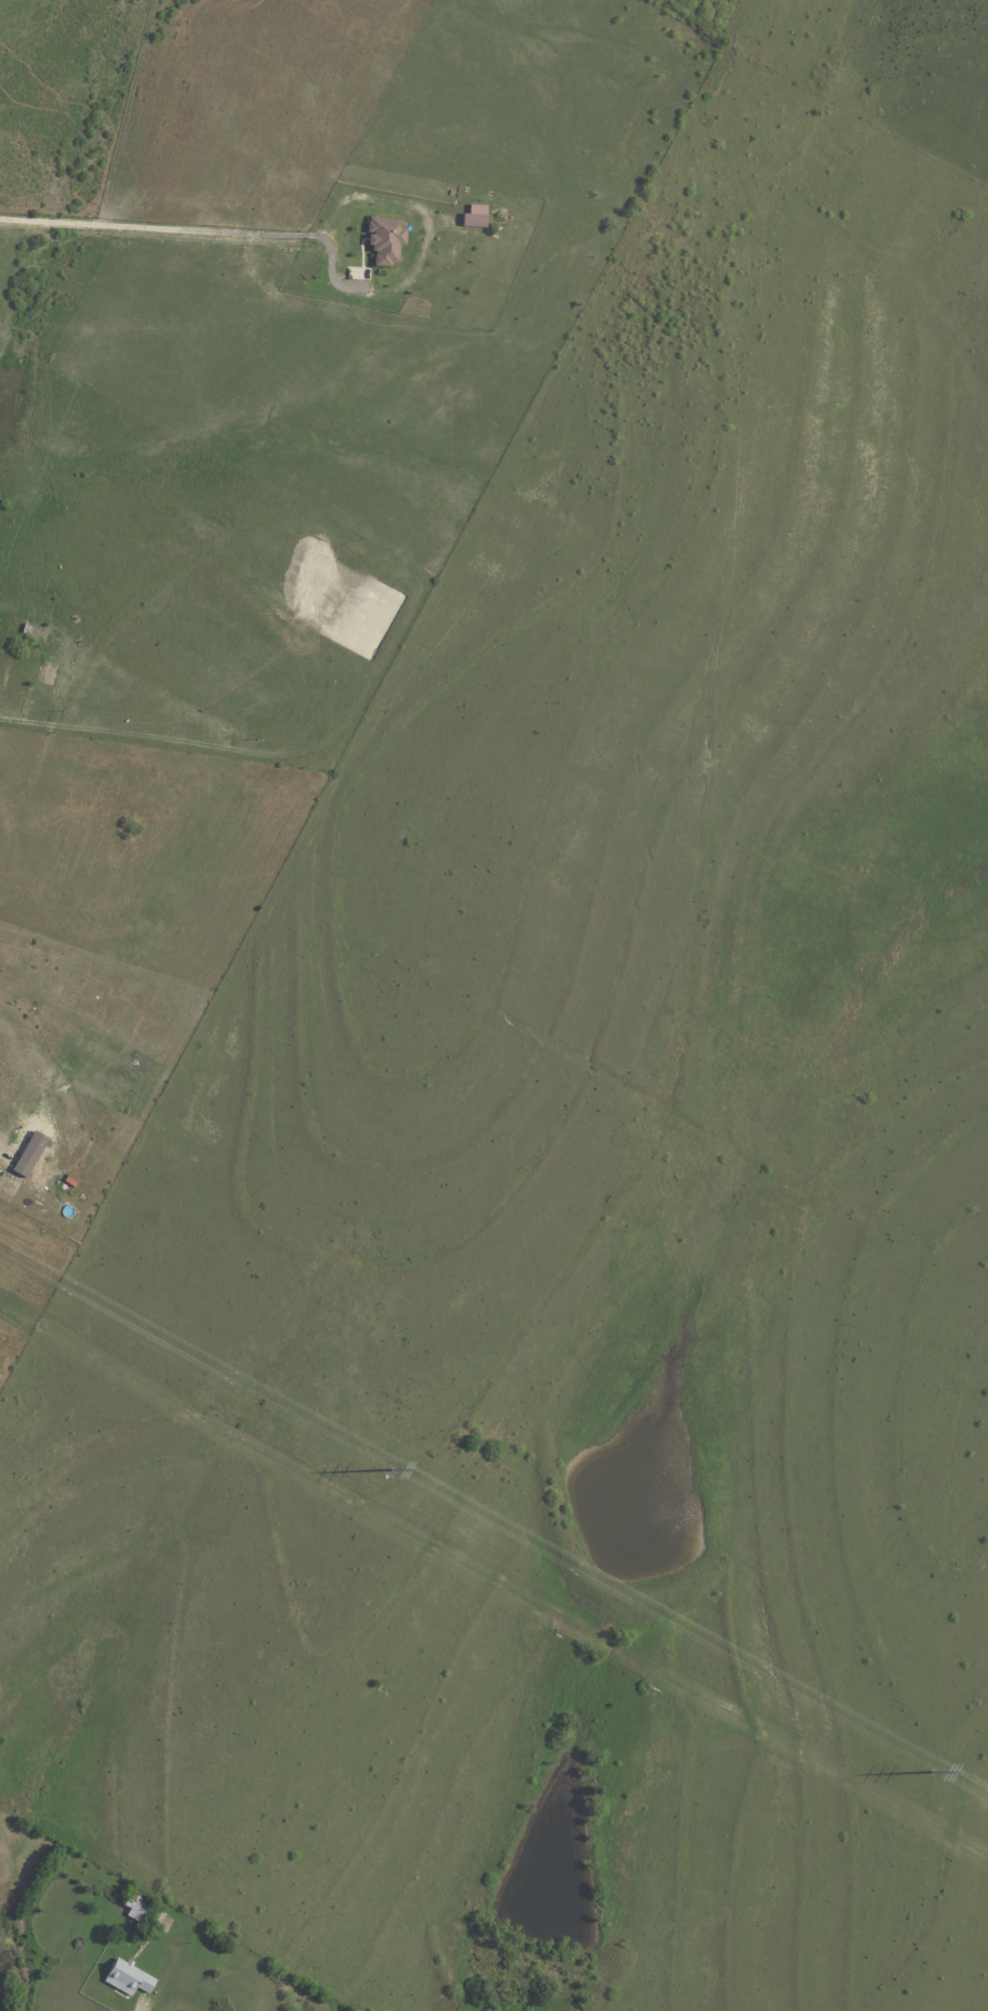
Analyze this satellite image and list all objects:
building: (474, 216)
road: (190, 228)
building: (384, 241)
building: (40, 633)
building: (28, 1153)
power tower: (391, 1471)
power tower: (934, 1773)
building: (141, 1908)
building: (130, 1977)

